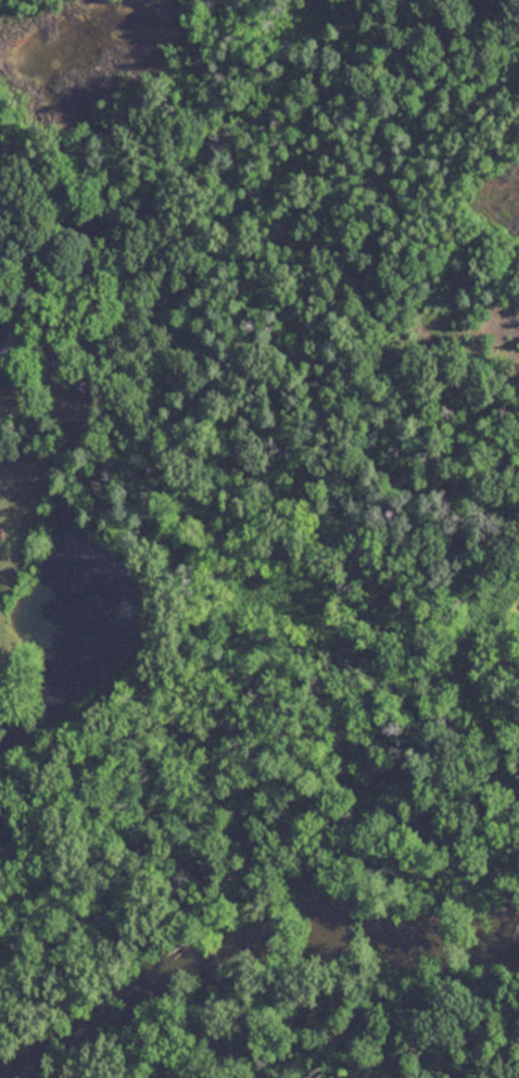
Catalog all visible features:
road: (2, 337)
park: (299, 538)
river: (249, 949)

